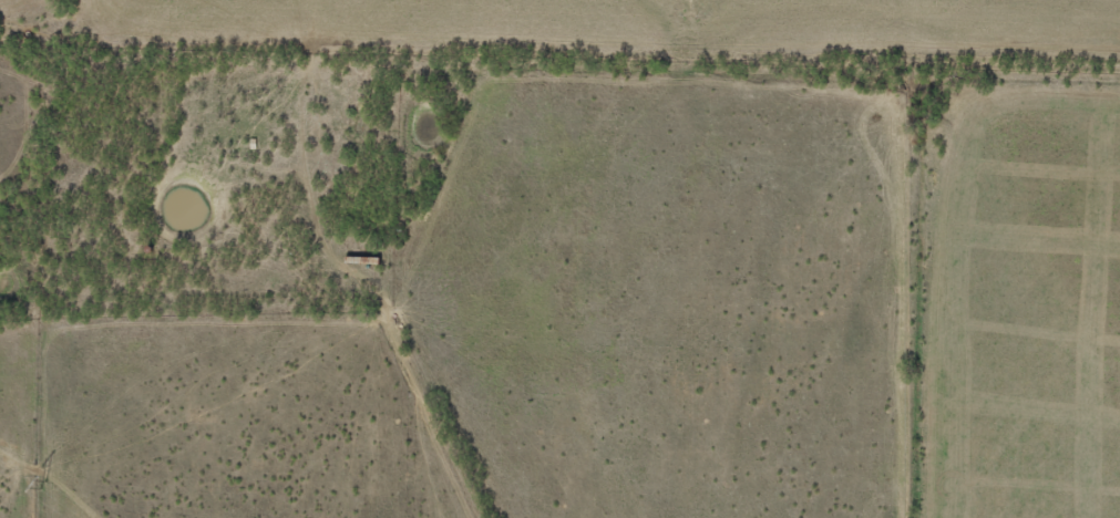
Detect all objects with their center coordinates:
power tower: (43, 484)

